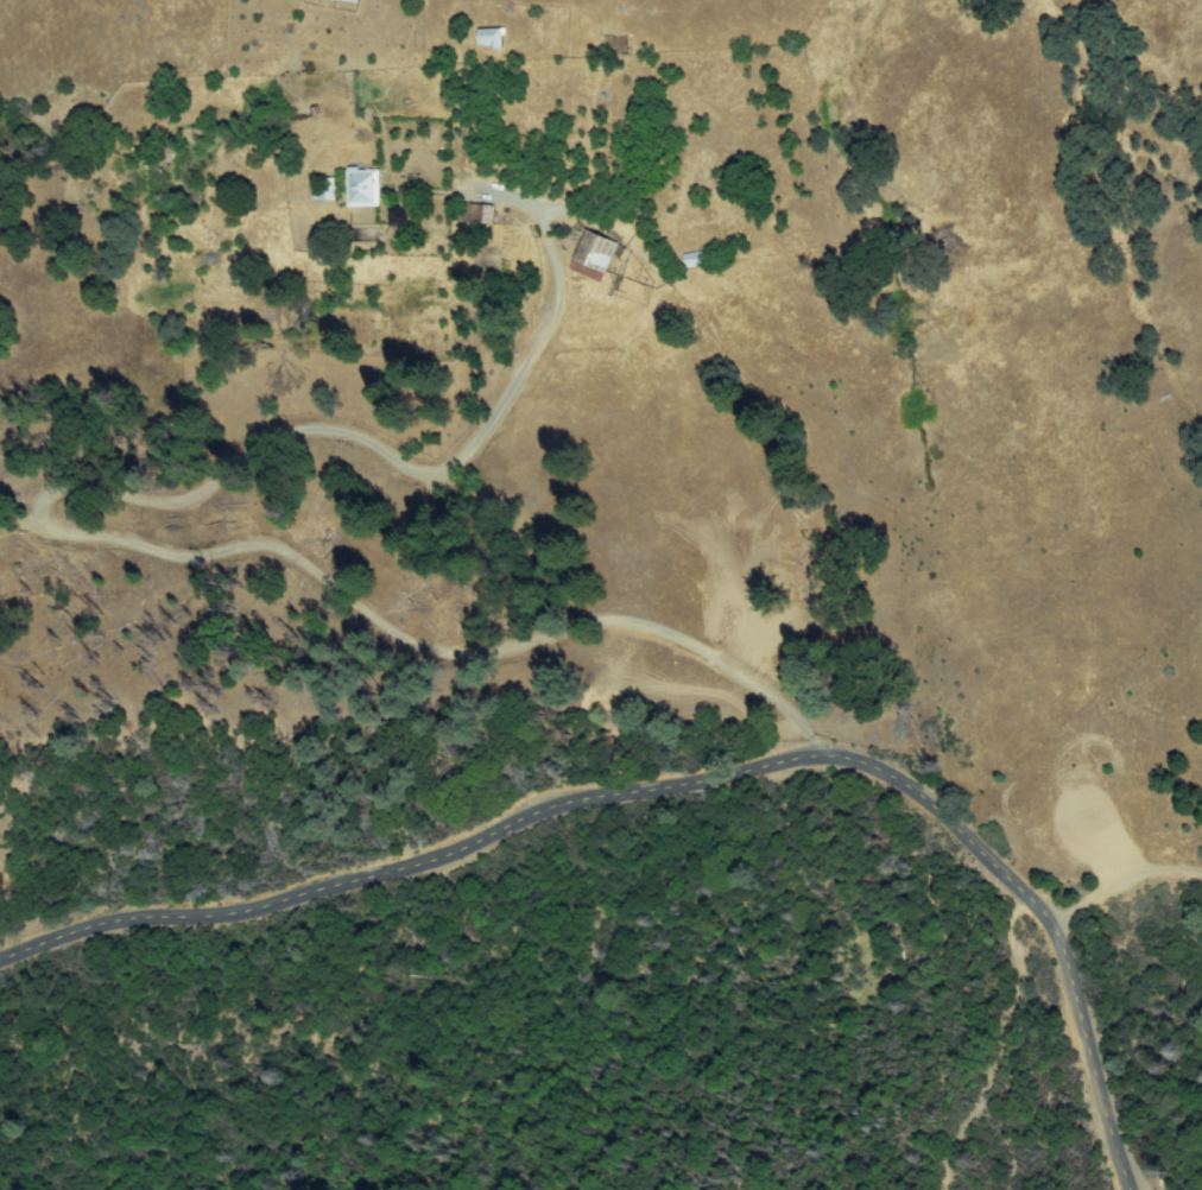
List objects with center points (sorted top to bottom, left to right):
building: (355, 0)
building: (493, 38)
building: (365, 188)
building: (327, 190)
building: (481, 214)
building: (595, 254)
building: (696, 259)
road: (904, 382)
road: (163, 549)
road: (681, 785)
road: (999, 1042)

